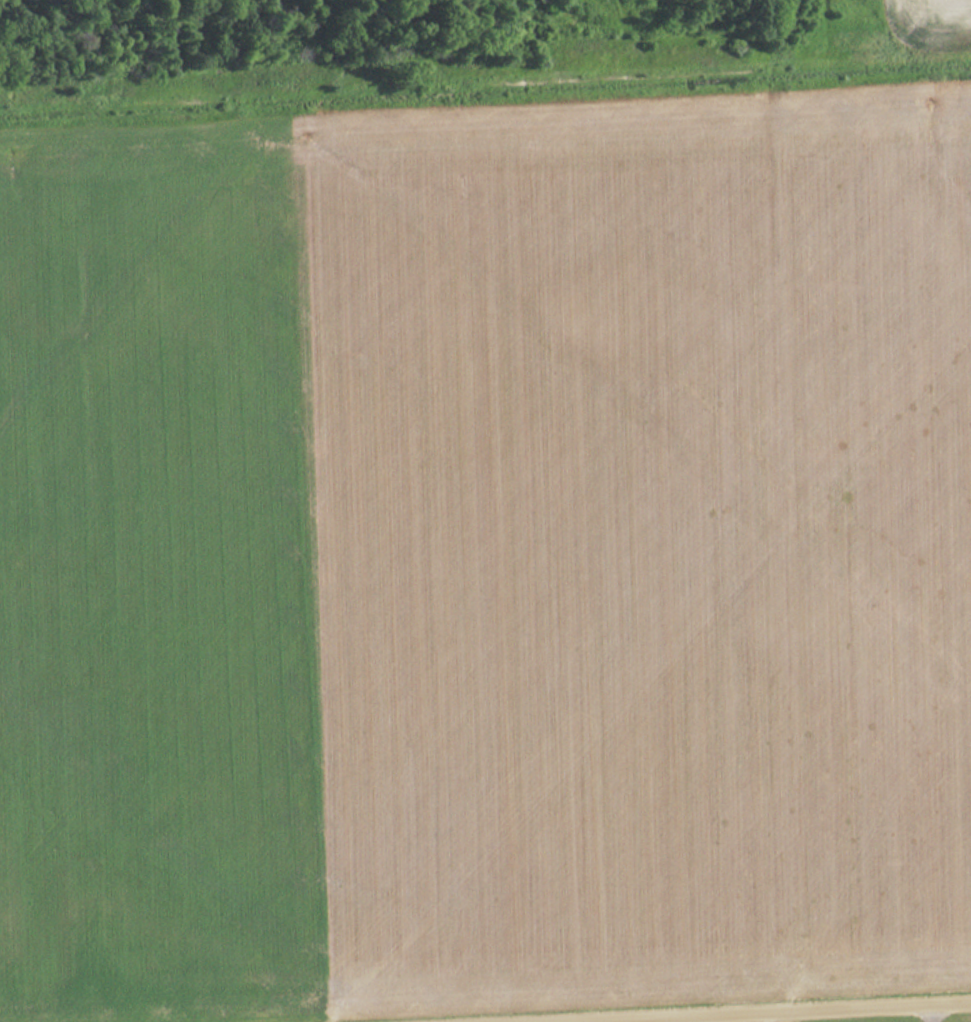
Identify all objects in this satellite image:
road: (862, 1016)

